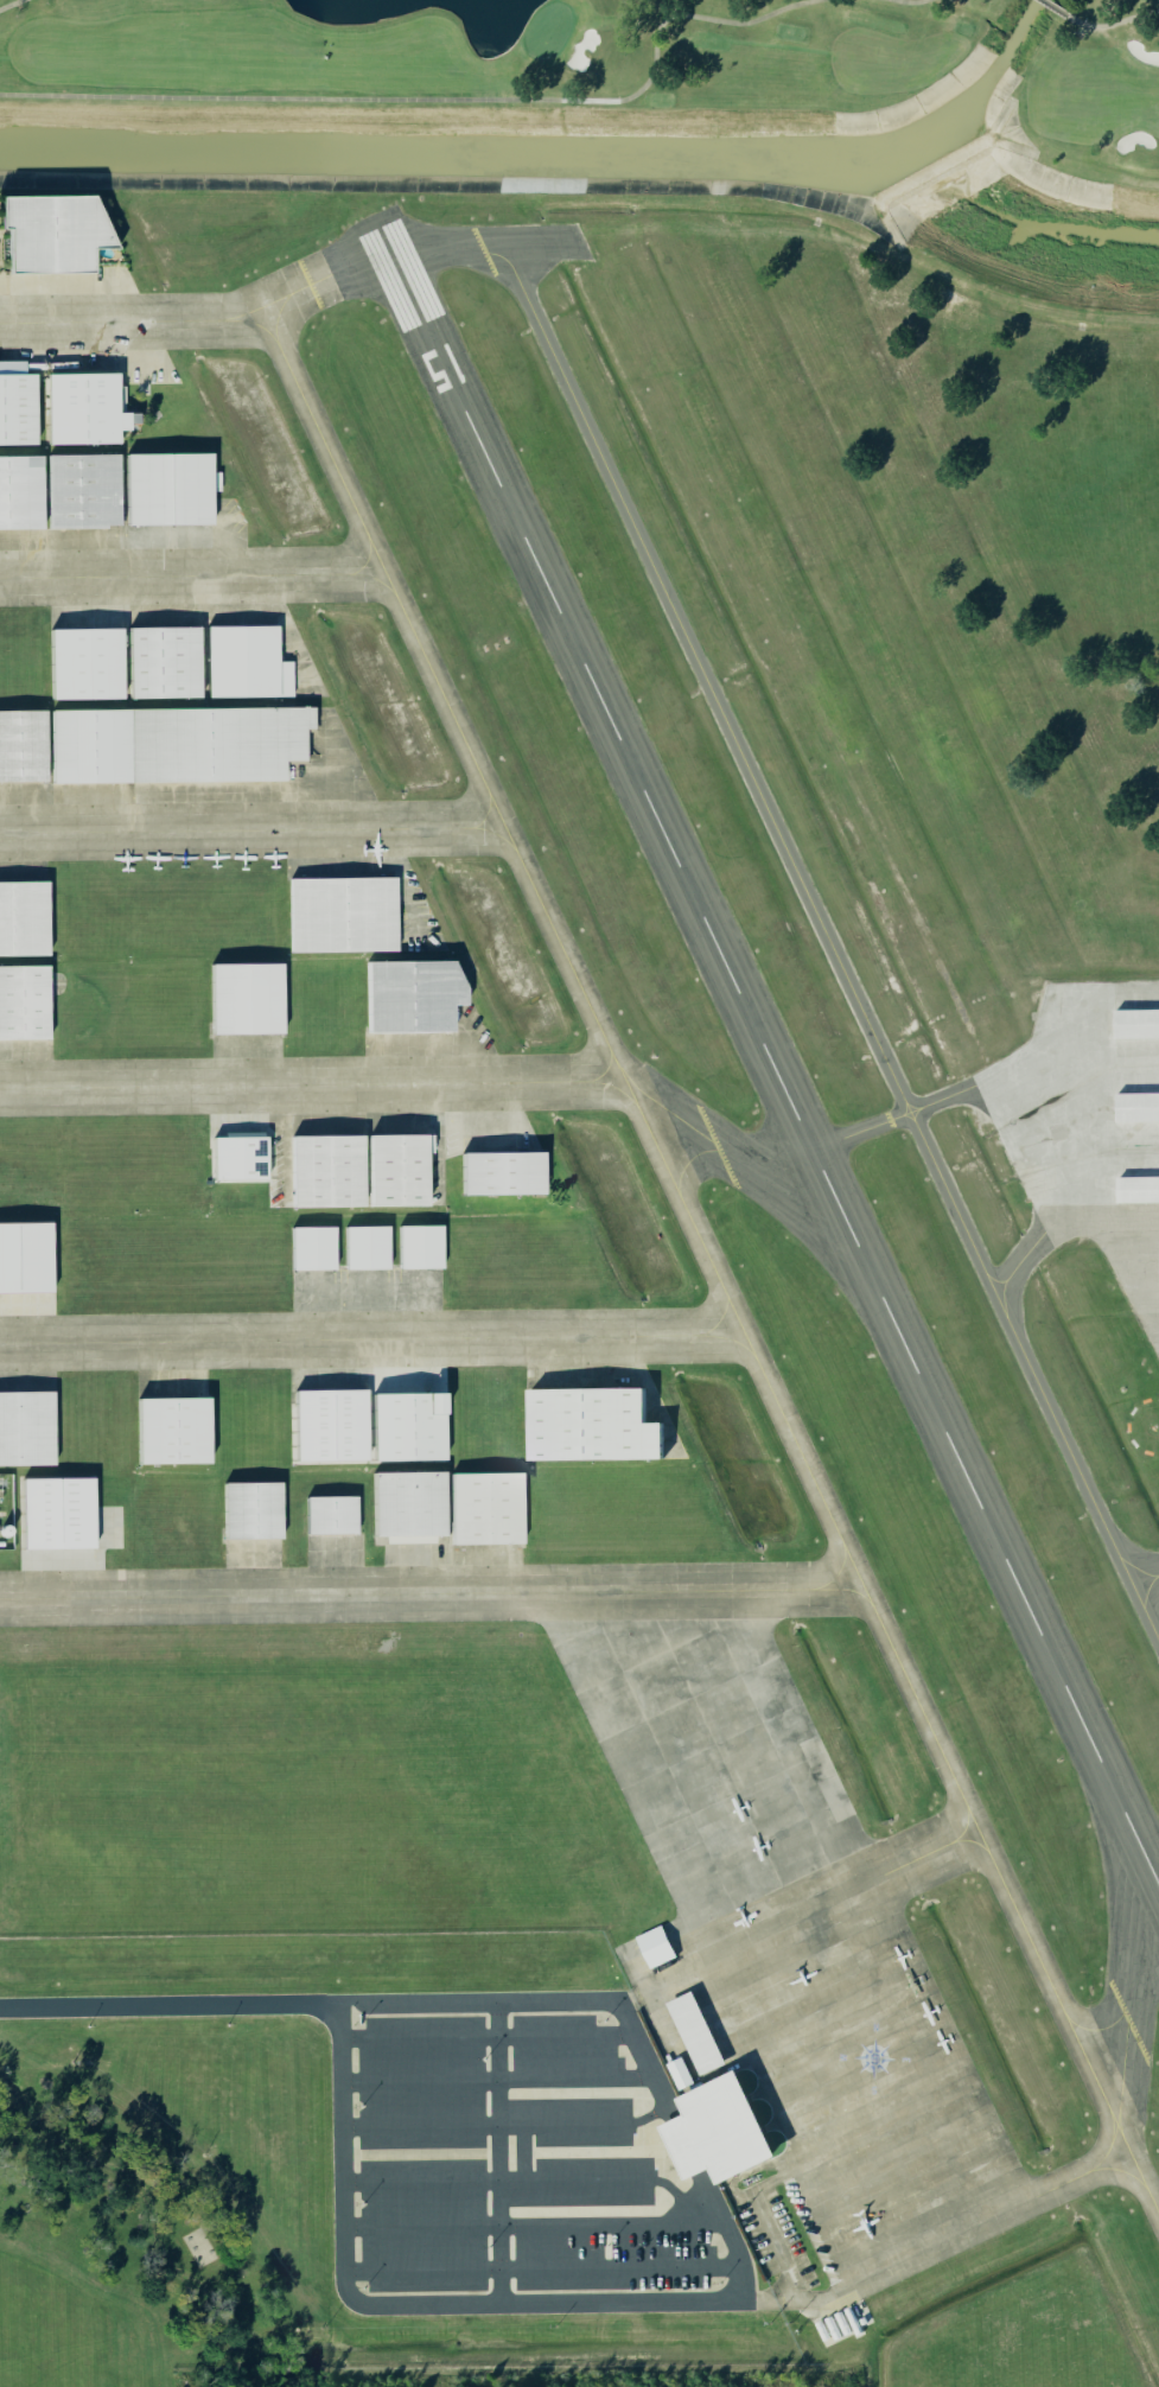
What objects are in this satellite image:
park: (626, 63)
park: (619, 68)
building: (50, 231)
airport taxiway: (384, 279)
airport taxiway: (75, 320)
road: (75, 320)
airport taxiway: (253, 322)
building: (15, 407)
building: (81, 407)
building: (165, 488)
building: (79, 489)
building: (19, 491)
airport taxiway: (336, 572)
airport taxiway: (135, 574)
road: (135, 574)
airport taxiway: (376, 578)
building: (160, 661)
building: (242, 662)
building: (81, 663)
building: (173, 743)
building: (21, 745)
airport taxiway: (454, 827)
airport taxiway: (195, 829)
road: (195, 829)
airport taxiway: (497, 834)
building: (339, 912)
building: (21, 916)
airport taxiway: (821, 930)
building: (408, 994)
building: (242, 997)
building: (23, 1000)
building: (1135, 1021)
airport taxiway: (753, 1029)
airport runway: (765, 1051)
airport taxiway: (572, 1080)
airport taxiway: (255, 1083)
road: (255, 1083)
airport taxiway: (613, 1086)
airport taxiway: (909, 1102)
building: (1135, 1105)
airport taxiway: (897, 1107)
airport taxiway: (915, 1113)
airport taxiway: (904, 1116)
airport apron: (1089, 1128)
airport taxiway: (690, 1154)
building: (235, 1157)
building: (394, 1169)
building: (323, 1170)
building: (498, 1172)
building: (1136, 1188)
airport taxiway: (682, 1204)
airport taxiway: (846, 1218)
building: (363, 1246)
building: (418, 1246)
building: (310, 1247)
building: (24, 1255)
airport taxiway: (1014, 1263)
building: (1158, 1269)
airport taxiway: (995, 1275)
airport taxiway: (868, 1281)
airport: (572, 1300)
airport taxiway: (714, 1320)
airport taxiway: (696, 1333)
airport taxiway: (314, 1337)
road: (314, 1337)
building: (326, 1424)
building: (587, 1424)
building: (408, 1426)
building: (25, 1427)
building: (168, 1428)
building: (405, 1503)
building: (483, 1507)
building: (249, 1509)
building: (53, 1513)
building: (327, 1514)
airport taxiway: (1128, 1559)
airport taxiway: (836, 1568)
airport taxiway: (701, 1589)
airport taxiway: (1144, 1593)
airport taxiway: (263, 1594)
road: (263, 1594)
airport taxiway: (963, 1826)
airport taxiway: (1135, 1838)
airport taxiway: (935, 1847)
airport taxiway: (1135, 1888)
airport apron: (795, 1942)
building: (655, 1946)
airport taxiway: (1138, 1963)
road: (661, 1984)
road: (317, 2003)
airport taxiway: (1106, 2024)
building: (695, 2032)
road: (485, 2033)
building: (680, 2071)
road: (496, 2079)
road: (431, 2122)
airport terminal: (726, 2124)
building: (726, 2124)
airport taxiway: (1109, 2141)
building: (683, 2143)
road: (686, 2146)
road: (497, 2151)
parking lot: (514, 2159)
road: (522, 2166)
airport taxiway: (1119, 2169)
road: (431, 2178)
airport taxiway: (1153, 2202)
road: (529, 2222)
road: (775, 2242)
road: (540, 2270)
road: (808, 2297)
road: (412, 2303)

